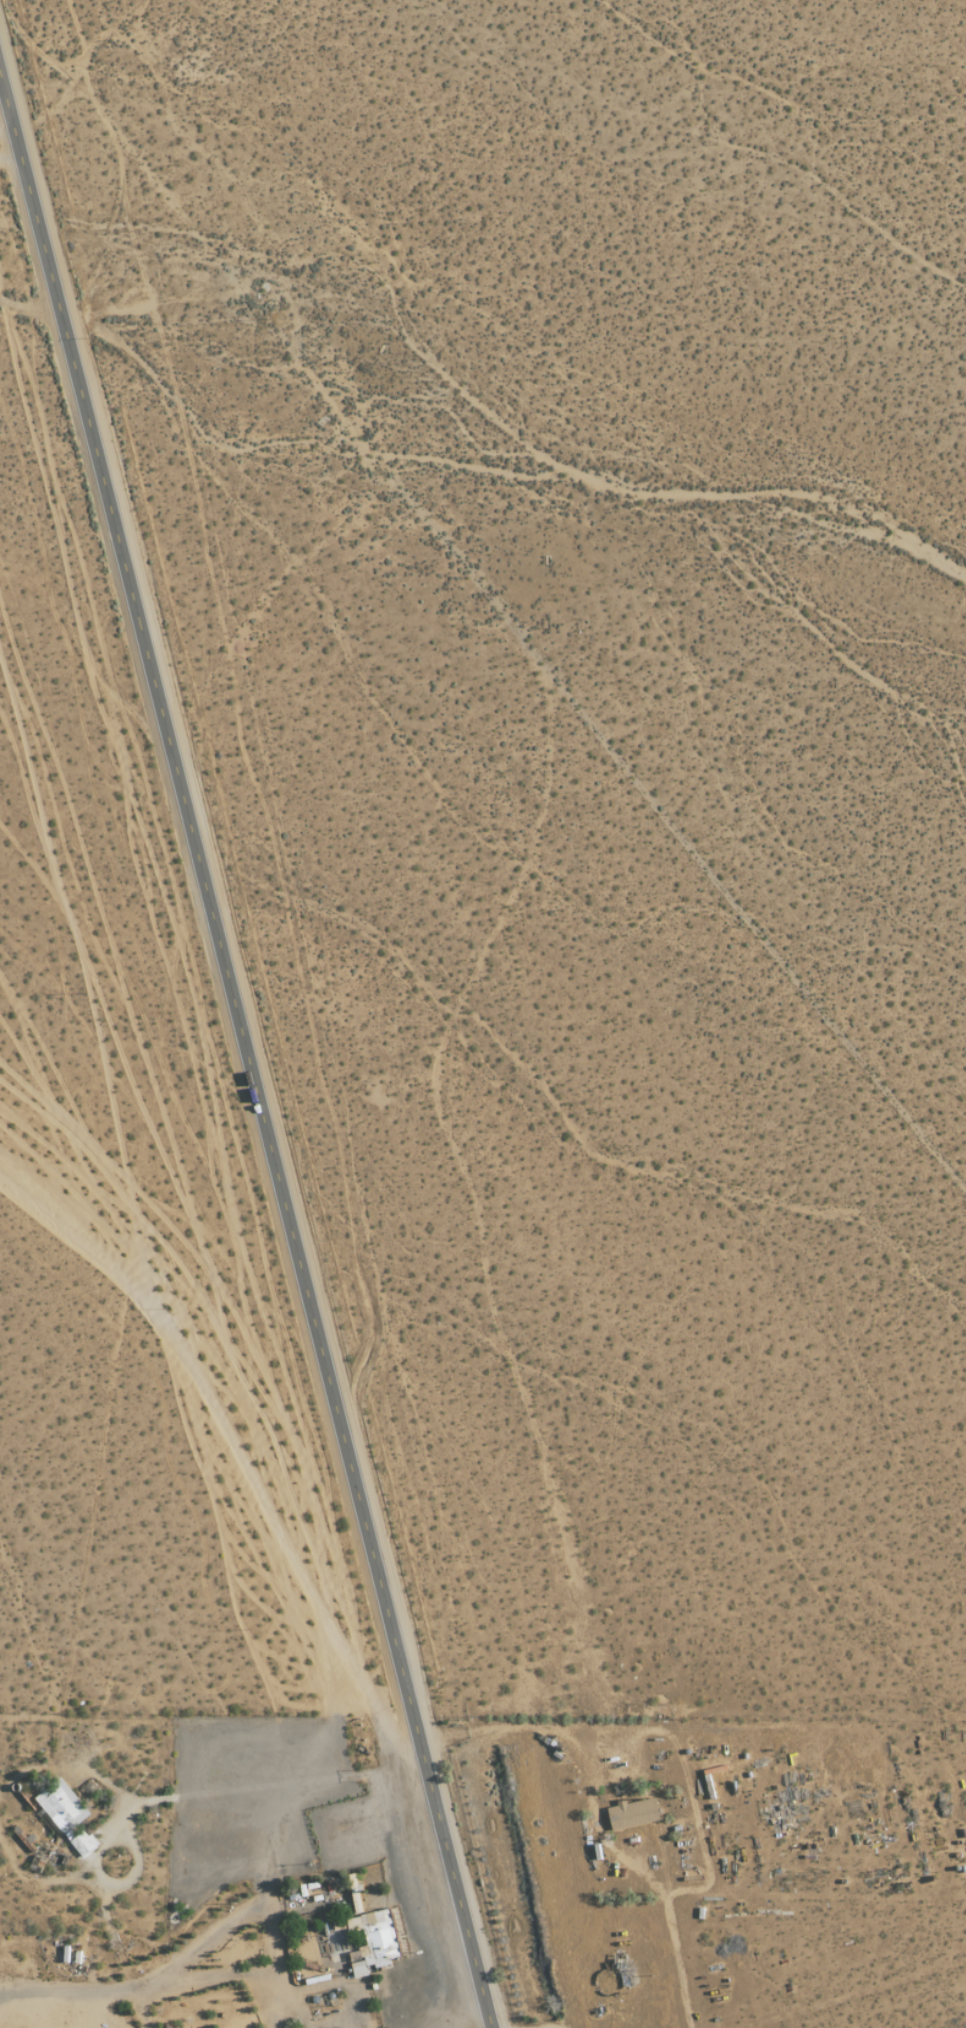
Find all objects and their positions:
road: (6, 129)
road: (245, 1050)
road: (188, 1795)
building: (67, 1816)
road: (448, 2017)

